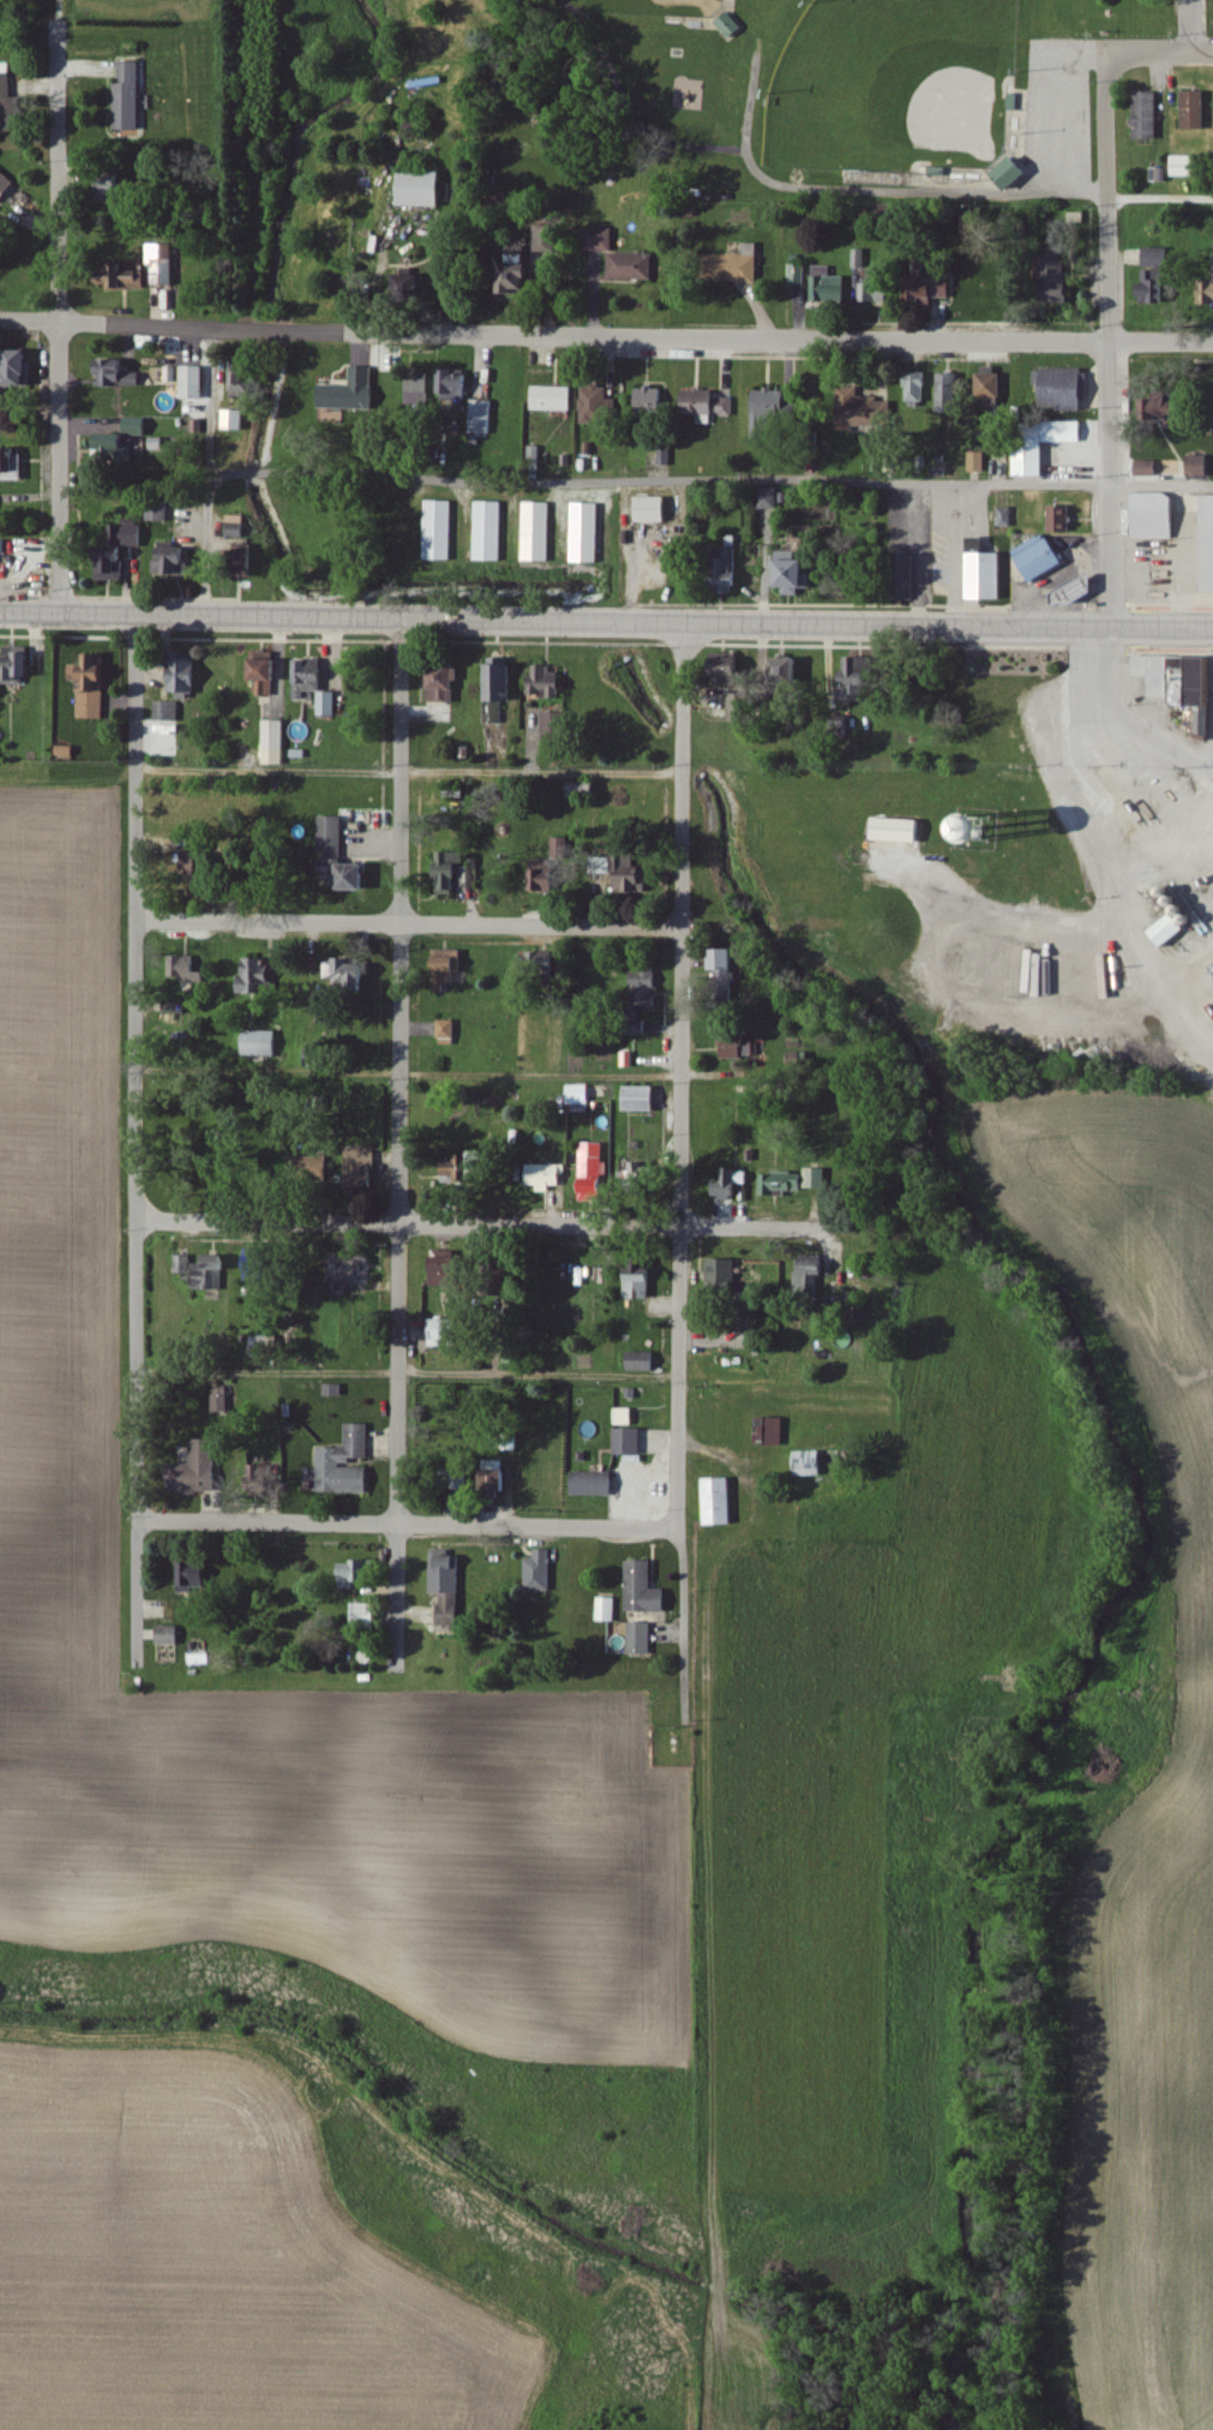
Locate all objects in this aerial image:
building: (731, 26)
road: (1188, 26)
road: (1161, 54)
park: (893, 86)
park: (848, 91)
building: (128, 98)
building: (7, 102)
building: (1196, 112)
building: (1147, 116)
road: (618, 119)
building: (1185, 167)
building: (1014, 175)
building: (6, 185)
building: (424, 190)
road: (867, 191)
road: (1159, 194)
building: (600, 240)
building: (547, 244)
building: (163, 264)
building: (739, 265)
building: (632, 267)
building: (124, 275)
building: (1058, 275)
building: (518, 276)
building: (798, 276)
building: (1157, 276)
building: (414, 287)
building: (829, 287)
building: (876, 287)
building: (936, 291)
building: (1201, 292)
road: (58, 336)
road: (606, 337)
road: (1109, 345)
building: (18, 369)
building: (194, 383)
building: (241, 383)
building: (119, 385)
building: (455, 385)
building: (918, 387)
building: (419, 389)
building: (992, 389)
building: (1063, 389)
building: (872, 390)
building: (353, 391)
building: (949, 393)
building: (554, 399)
building: (651, 401)
building: (709, 403)
building: (599, 407)
building: (770, 411)
building: (864, 411)
building: (482, 417)
building: (234, 420)
building: (121, 441)
building: (1032, 460)
building: (10, 461)
building: (978, 462)
building: (1199, 466)
building: (1148, 468)
road: (642, 481)
building: (769, 499)
building: (654, 510)
building: (158, 514)
building: (1155, 516)
building: (1005, 517)
building: (1062, 519)
building: (238, 527)
building: (439, 531)
building: (490, 531)
building: (539, 532)
building: (587, 533)
building: (1209, 546)
building: (120, 552)
building: (1040, 558)
building: (174, 562)
building: (729, 567)
building: (987, 571)
building: (793, 573)
road: (606, 623)
building: (19, 665)
building: (732, 666)
building: (266, 672)
building: (1159, 674)
building: (786, 675)
building: (184, 677)
building: (310, 677)
building: (857, 680)
building: (547, 682)
building: (1202, 682)
building: (443, 684)
building: (92, 687)
building: (0, 688)
building: (499, 690)
building: (329, 704)
building: (740, 708)
building: (168, 712)
building: (1201, 720)
road: (1124, 723)
building: (554, 726)
building: (275, 742)
road: (407, 771)
building: (586, 789)
building: (900, 830)
building: (560, 848)
building: (341, 857)
building: (452, 872)
building: (624, 873)
building: (544, 876)
road: (1125, 890)
road: (407, 924)
building: (1170, 930)
building: (723, 959)
building: (452, 965)
building: (185, 970)
building: (349, 974)
building: (258, 977)
road: (1193, 993)
building: (448, 1033)
building: (262, 1043)
building: (739, 1046)
road: (134, 1067)
road: (398, 1072)
road: (679, 1076)
building: (580, 1099)
building: (643, 1100)
building: (596, 1159)
building: (464, 1168)
building: (310, 1169)
building: (362, 1171)
building: (544, 1173)
building: (644, 1173)
building: (792, 1183)
building: (731, 1185)
road: (479, 1226)
building: (185, 1264)
building: (256, 1265)
building: (349, 1270)
building: (212, 1274)
building: (450, 1274)
building: (722, 1275)
building: (811, 1275)
building: (642, 1282)
building: (445, 1333)
building: (264, 1346)
building: (643, 1363)
building: (222, 1401)
building: (624, 1417)
building: (773, 1432)
building: (630, 1442)
building: (347, 1464)
building: (810, 1464)
building: (197, 1471)
building: (256, 1480)
building: (497, 1483)
building: (594, 1484)
building: (720, 1502)
road: (404, 1525)
building: (540, 1572)
building: (356, 1574)
building: (185, 1575)
road: (685, 1584)
building: (448, 1588)
building: (644, 1590)
road: (396, 1593)
building: (606, 1610)
building: (366, 1615)
building: (169, 1636)
building: (641, 1639)

